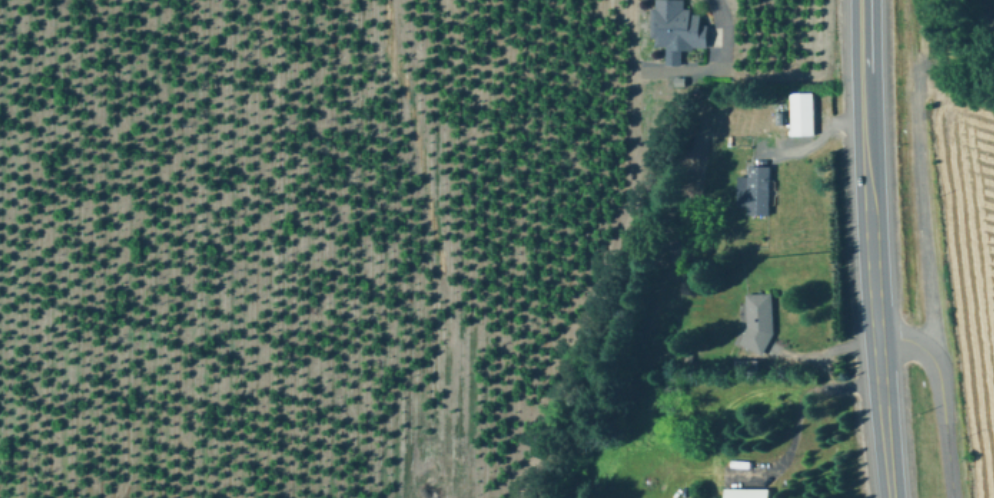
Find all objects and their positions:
building: (674, 28)
road: (716, 68)
building: (804, 114)
building: (760, 190)
road: (917, 210)
road: (871, 249)
crop: (972, 266)
building: (759, 321)
road: (826, 350)
road: (943, 397)
road: (795, 417)
building: (748, 493)

